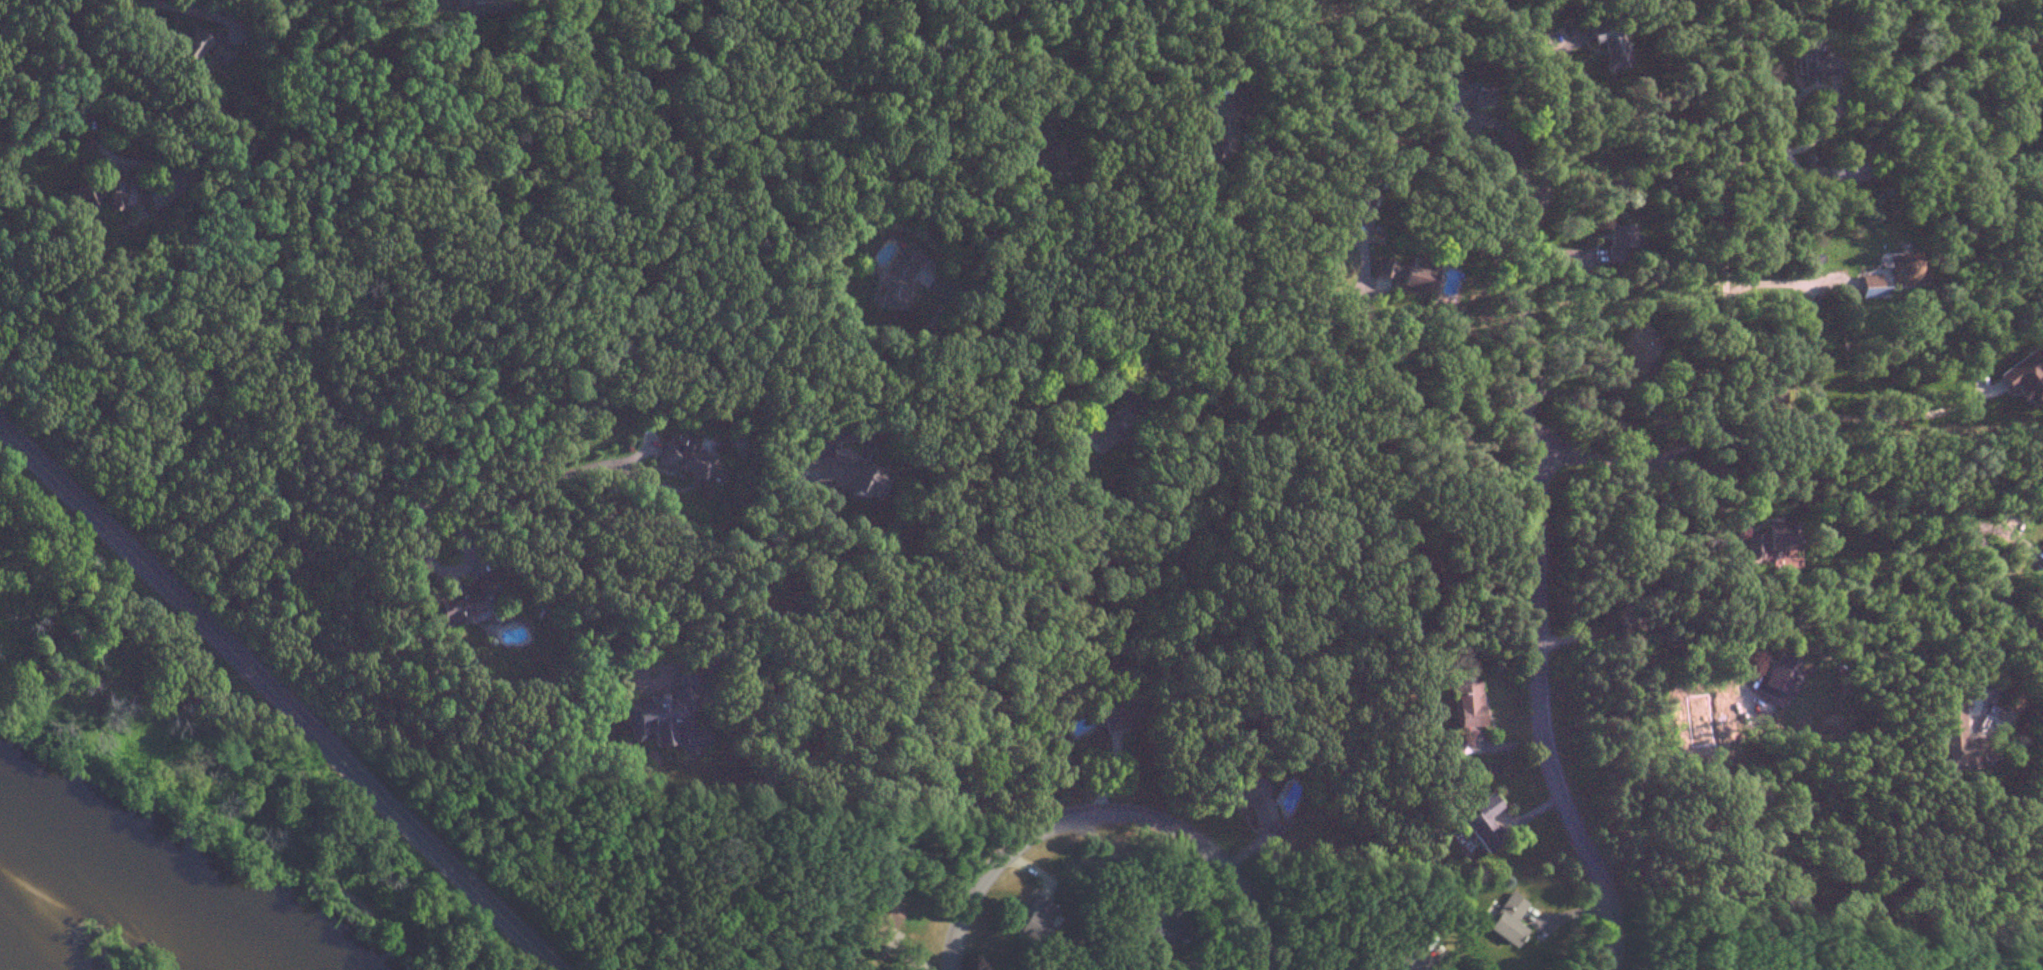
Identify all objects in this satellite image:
road: (175, 6)
building: (471, 7)
building: (1607, 43)
building: (204, 48)
building: (1814, 59)
building: (1456, 98)
road: (1539, 112)
building: (1214, 122)
building: (1044, 153)
road: (119, 158)
building: (1844, 171)
building: (117, 195)
road: (1724, 213)
building: (1616, 241)
road: (1267, 252)
building: (1382, 267)
building: (1413, 277)
building: (897, 278)
road: (256, 280)
road: (1777, 281)
building: (1871, 287)
road: (1092, 289)
road: (1050, 301)
road: (1198, 354)
building: (1632, 355)
road: (1364, 357)
building: (2024, 378)
road: (1627, 383)
road: (1160, 393)
road: (1842, 416)
building: (1102, 430)
building: (688, 461)
road: (384, 462)
road: (589, 466)
road: (1757, 470)
building: (848, 477)
road: (1385, 488)
building: (1770, 540)
road: (1538, 583)
road: (1998, 586)
road: (168, 587)
building: (464, 601)
road: (2042, 637)
road: (1647, 638)
road: (2002, 676)
building: (1777, 678)
building: (1468, 706)
building: (1117, 714)
road: (58, 715)
building: (665, 716)
park: (208, 737)
building: (1963, 738)
building: (1253, 799)
road: (1108, 812)
road: (289, 823)
building: (1484, 823)
road: (1122, 857)
road: (448, 861)
river: (129, 879)
building: (882, 915)
building: (1034, 918)
building: (1507, 918)
building: (1156, 927)
road: (1426, 964)

